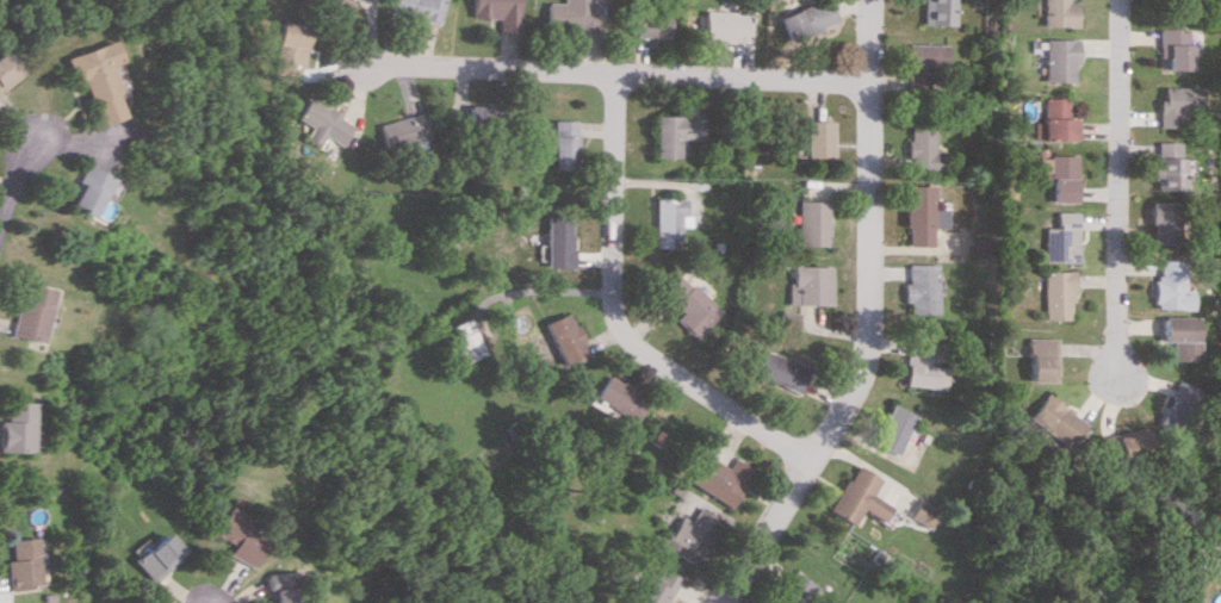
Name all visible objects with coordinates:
building: (334, 5)
building: (419, 8)
building: (498, 12)
building: (943, 12)
building: (1059, 13)
building: (574, 14)
building: (810, 19)
building: (651, 24)
building: (727, 26)
building: (1173, 48)
building: (286, 52)
building: (1059, 60)
building: (928, 62)
building: (5, 70)
road: (616, 75)
building: (93, 79)
building: (1176, 105)
building: (482, 118)
building: (1054, 120)
building: (320, 124)
building: (401, 129)
building: (675, 132)
building: (819, 138)
building: (564, 144)
building: (925, 149)
building: (1165, 164)
building: (1058, 176)
road: (14, 185)
road: (1115, 187)
building: (82, 191)
building: (922, 215)
building: (668, 220)
building: (1160, 222)
building: (811, 223)
building: (1060, 238)
building: (558, 241)
building: (806, 285)
building: (1165, 285)
building: (921, 288)
building: (1055, 294)
building: (689, 305)
building: (30, 312)
road: (619, 316)
road: (866, 322)
building: (1173, 336)
building: (565, 338)
building: (464, 340)
building: (1036, 359)
building: (921, 368)
building: (776, 369)
building: (620, 397)
building: (1170, 405)
building: (1052, 419)
building: (16, 425)
building: (892, 429)
building: (1124, 439)
building: (719, 478)
building: (857, 497)
building: (922, 512)
building: (688, 534)
building: (238, 536)
building: (159, 555)
building: (21, 564)
building: (279, 586)
building: (653, 588)
building: (792, 590)

